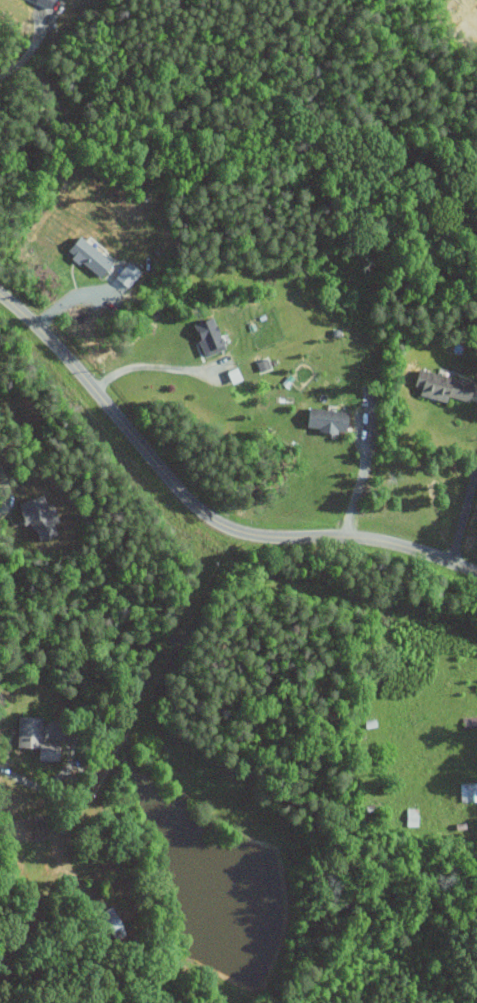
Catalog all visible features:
building: (52, 1)
road: (20, 53)
building: (92, 256)
building: (127, 277)
building: (211, 336)
road: (156, 366)
building: (446, 386)
building: (330, 420)
road: (360, 475)
road: (6, 496)
road: (197, 506)
road: (462, 510)
building: (41, 517)
building: (39, 738)
road: (57, 777)
road: (29, 964)

